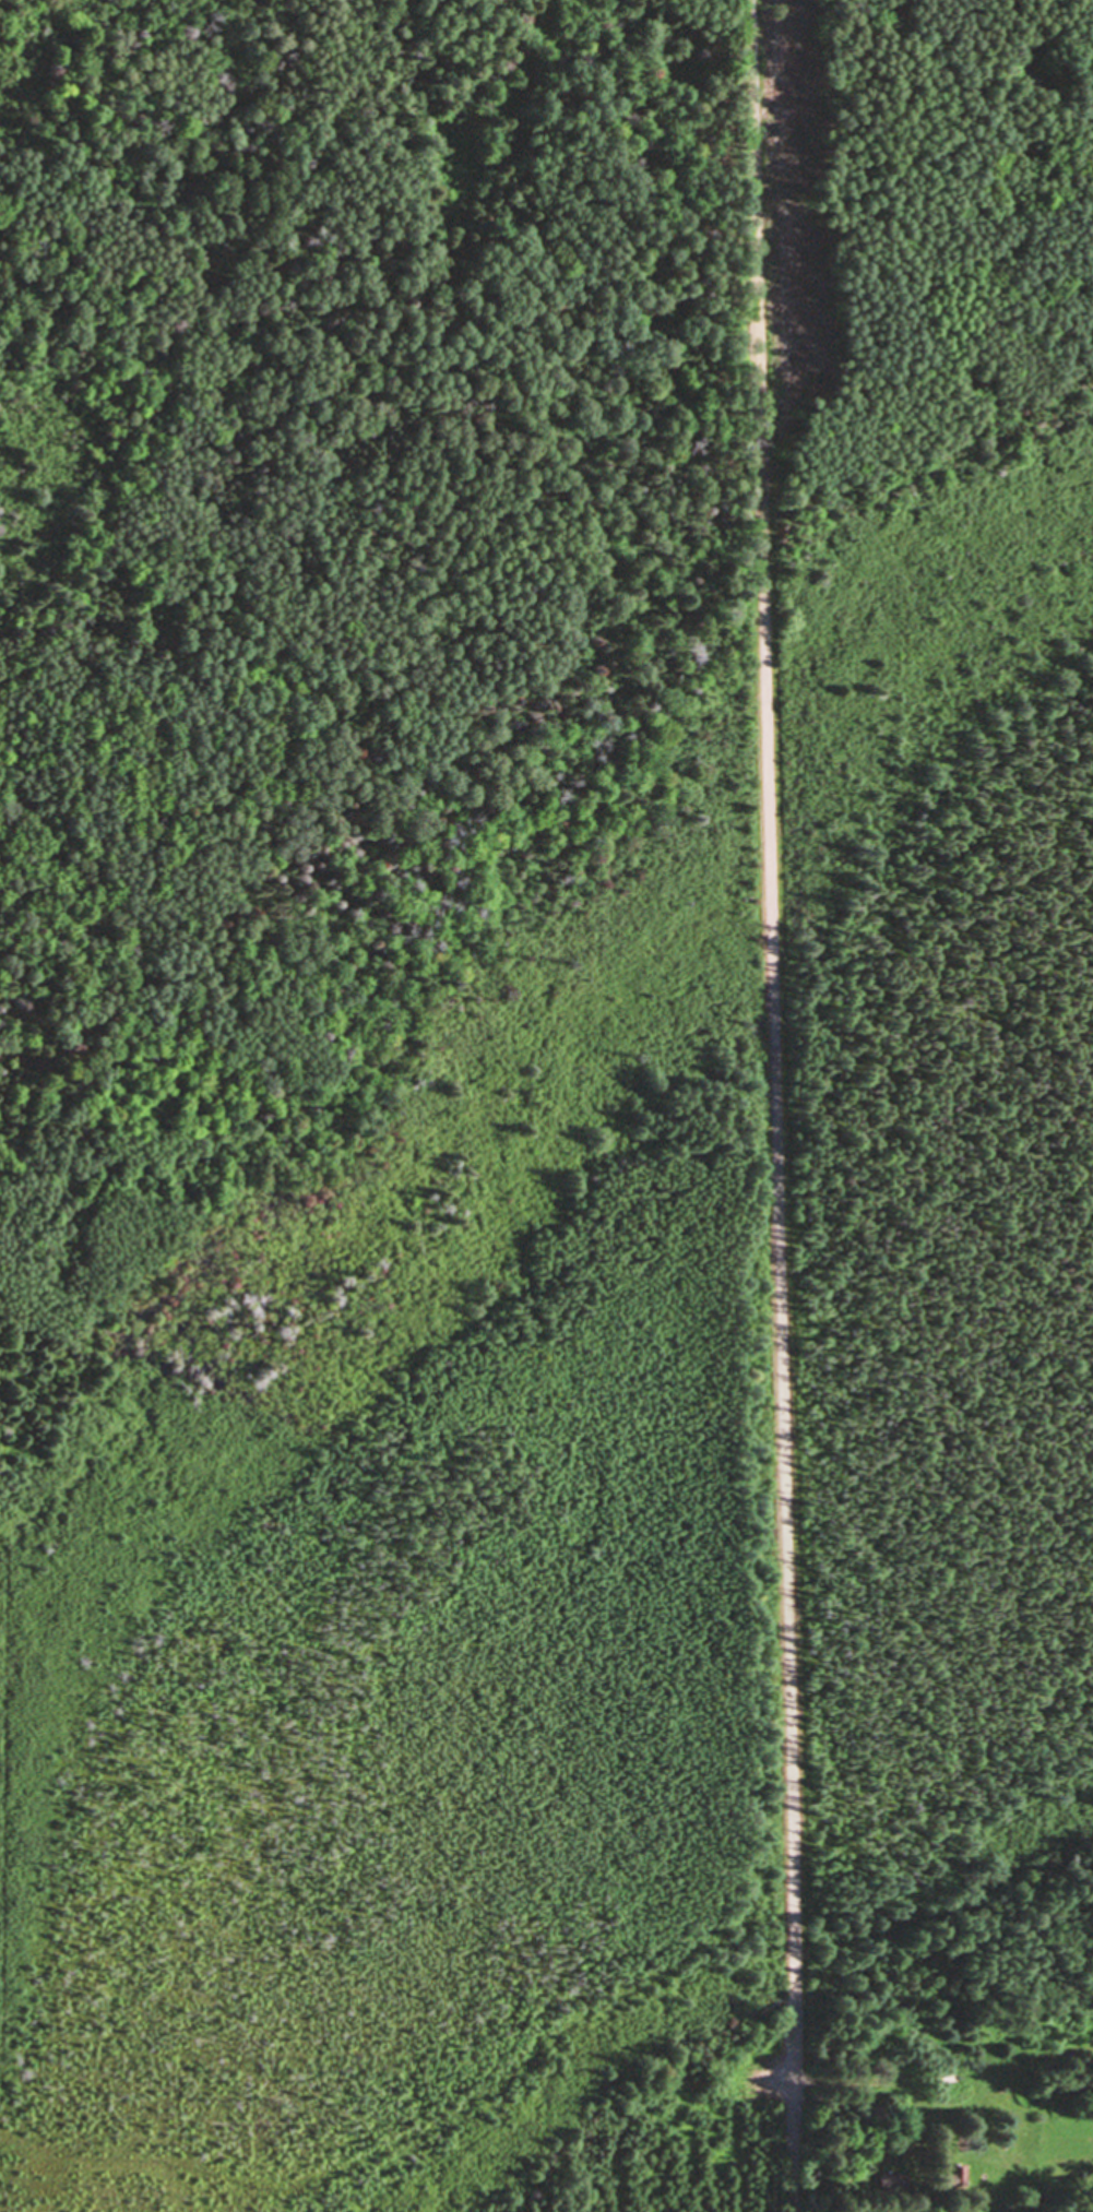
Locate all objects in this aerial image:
road: (780, 1105)
building: (955, 2173)

